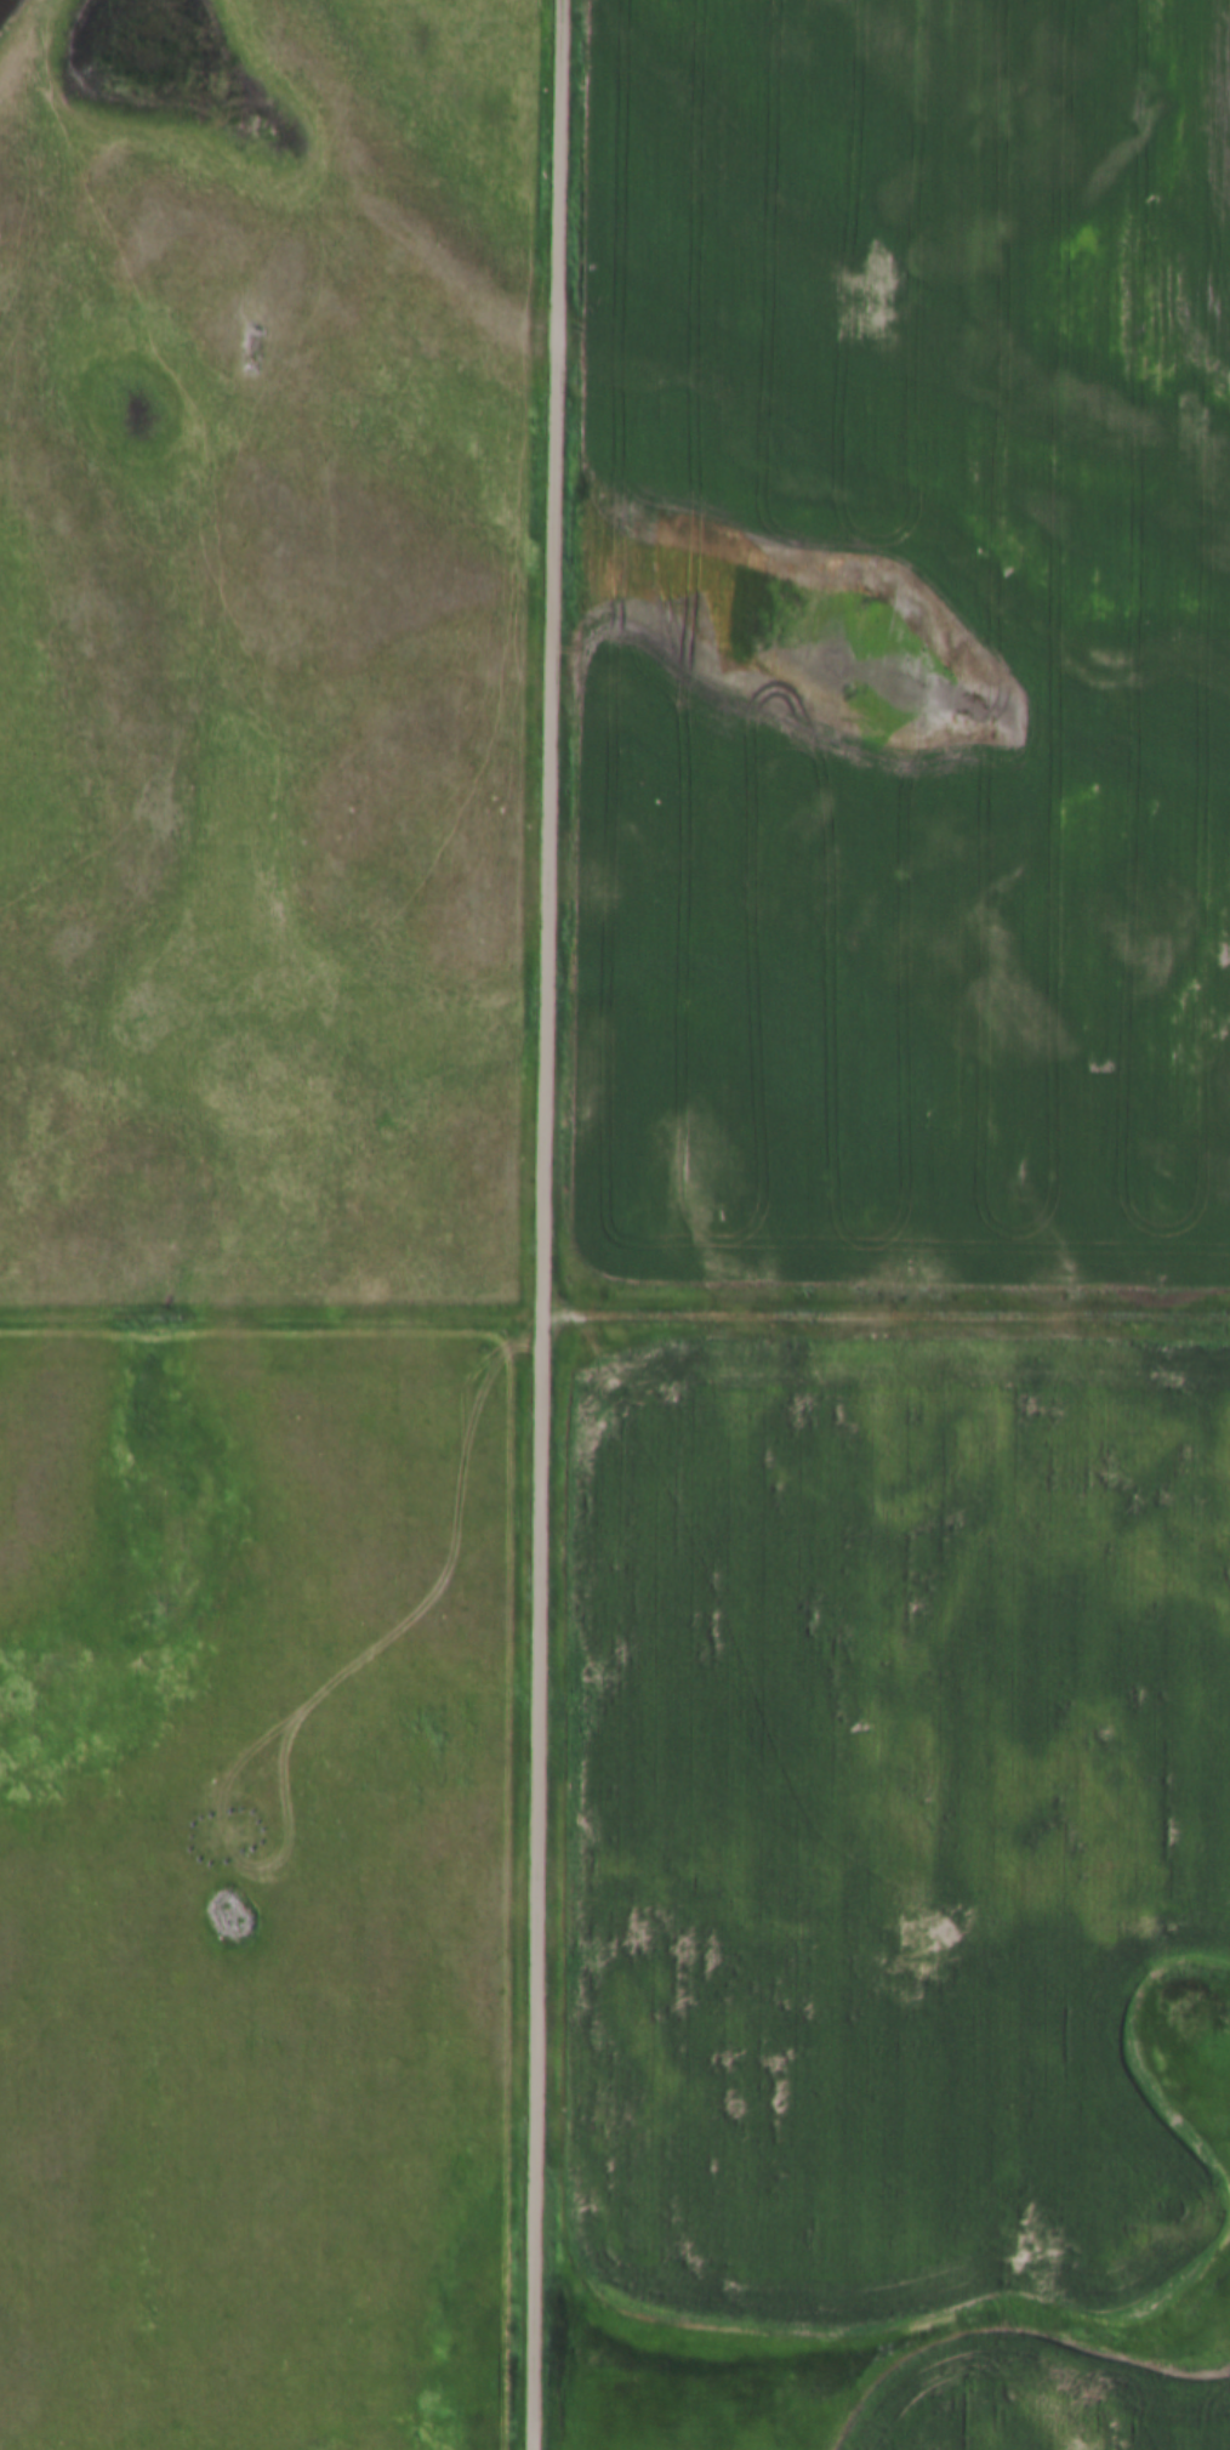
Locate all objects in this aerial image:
road: (543, 1224)
road: (886, 1314)

